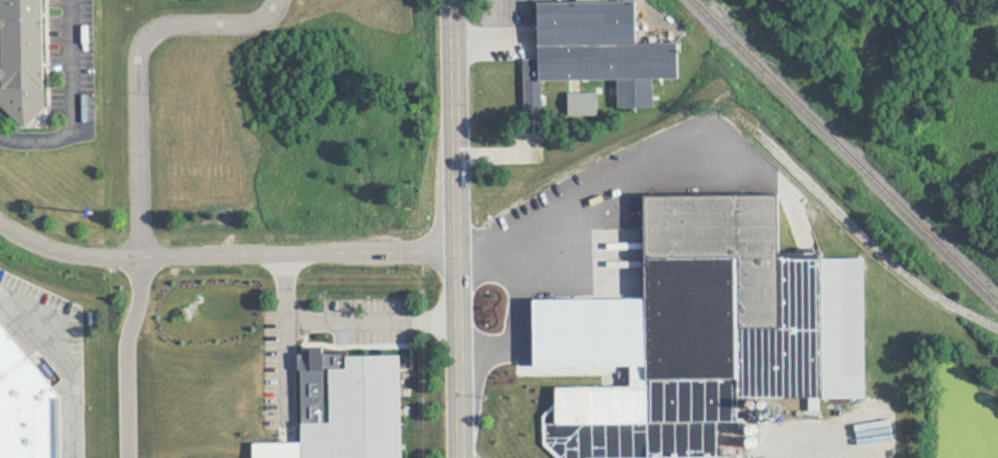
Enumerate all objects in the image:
road: (498, 41)
building: (595, 51)
building: (24, 58)
road: (138, 75)
road: (73, 101)
railway: (845, 150)
road: (497, 152)
road: (744, 179)
road: (602, 207)
road: (453, 229)
railway: (871, 242)
road: (223, 256)
road: (283, 292)
road: (582, 296)
road: (369, 324)
building: (726, 335)
road: (125, 357)
road: (65, 365)
road: (283, 384)
building: (25, 401)
building: (358, 412)

